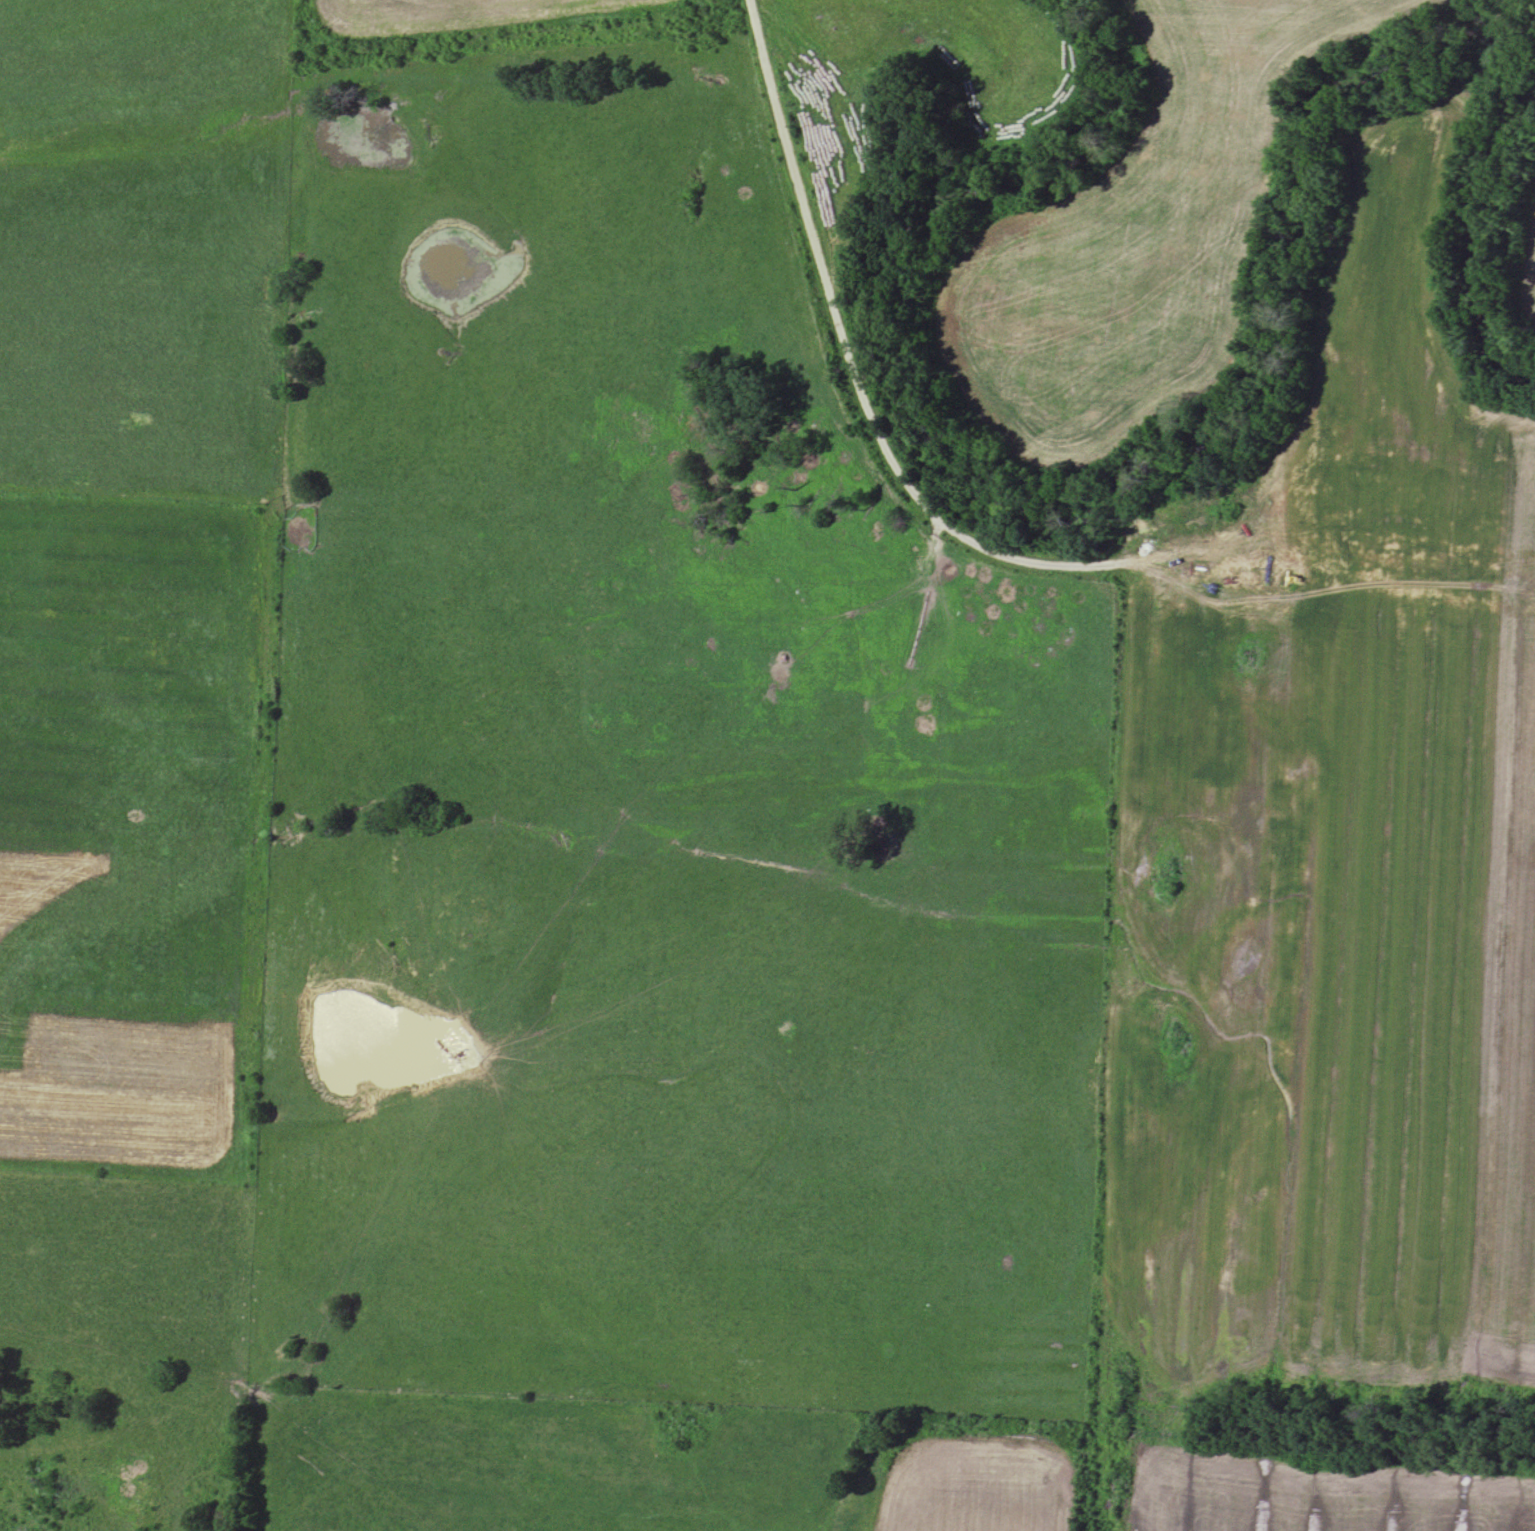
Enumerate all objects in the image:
crop: (1131, 238)
crop: (1524, 248)
road: (962, 534)
crop: (1332, 853)
crop: (981, 1487)
crop: (1302, 1490)

